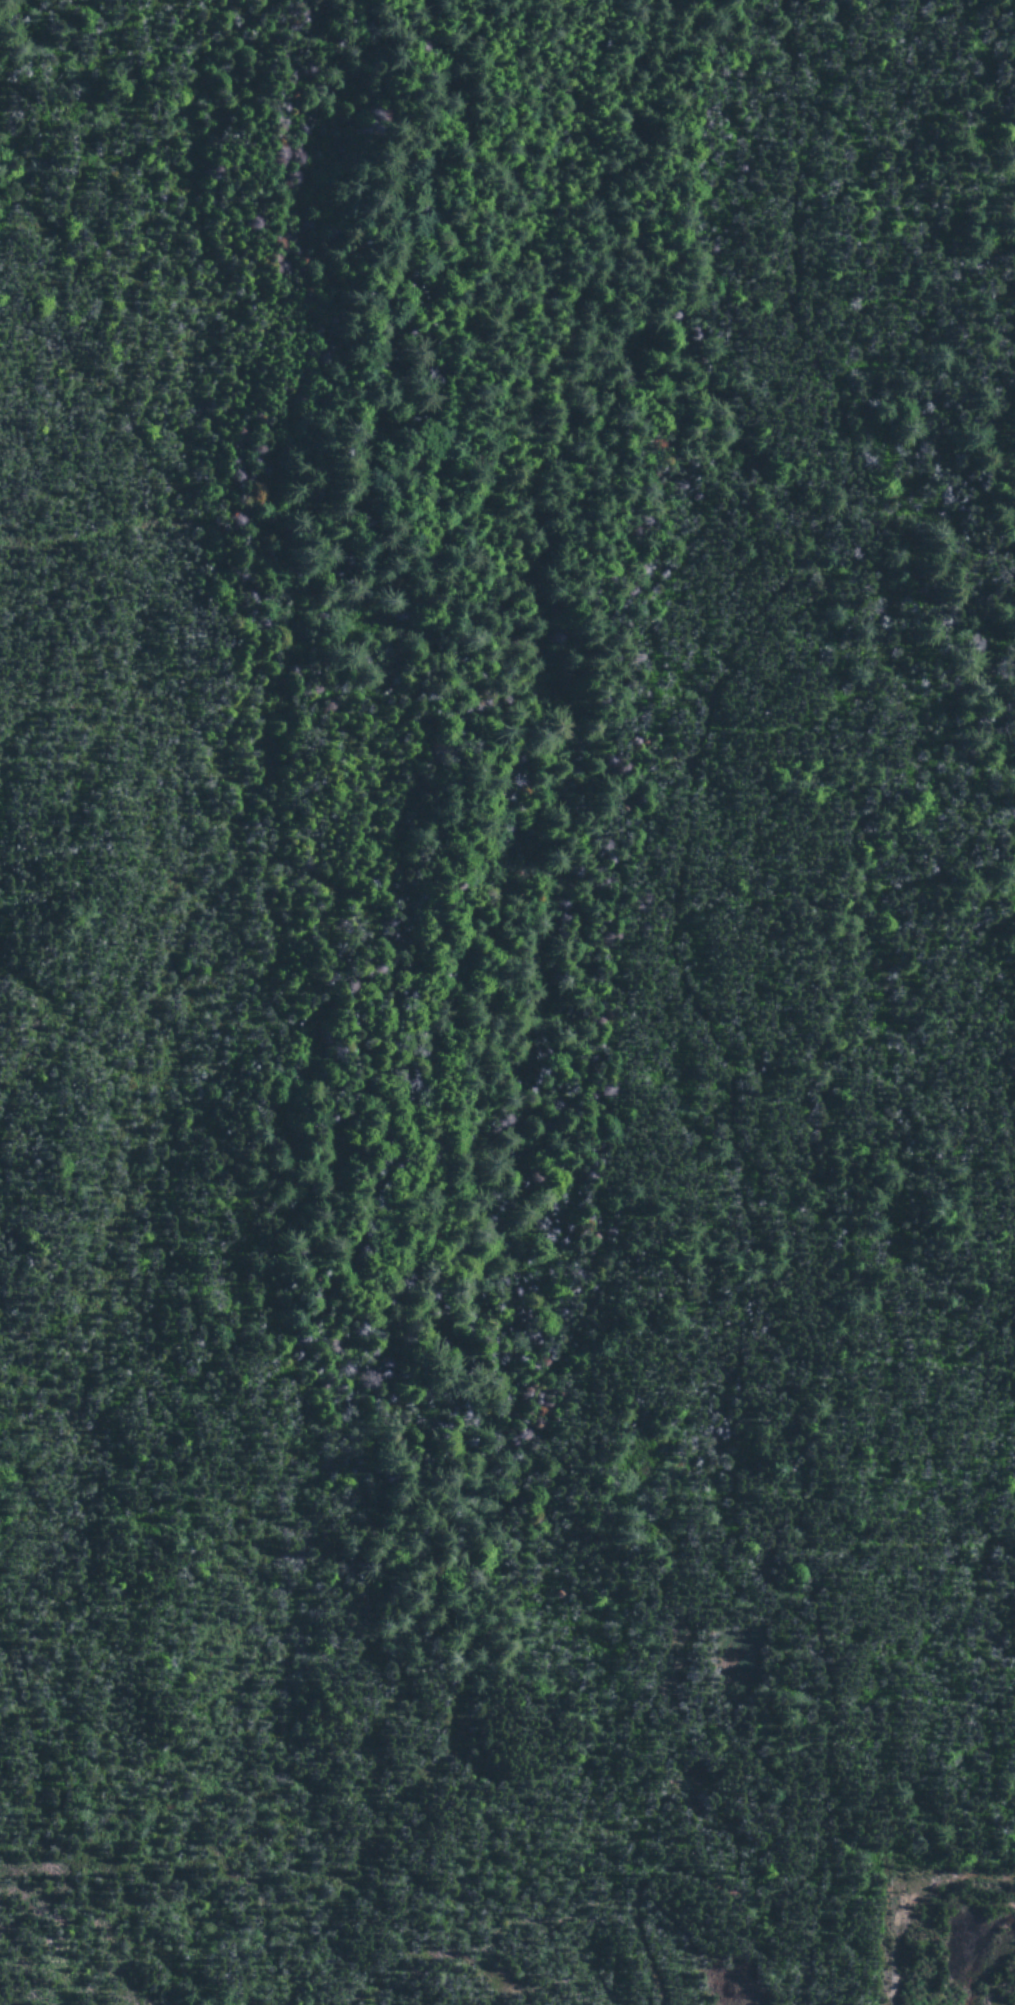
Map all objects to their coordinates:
road: (722, 1061)

